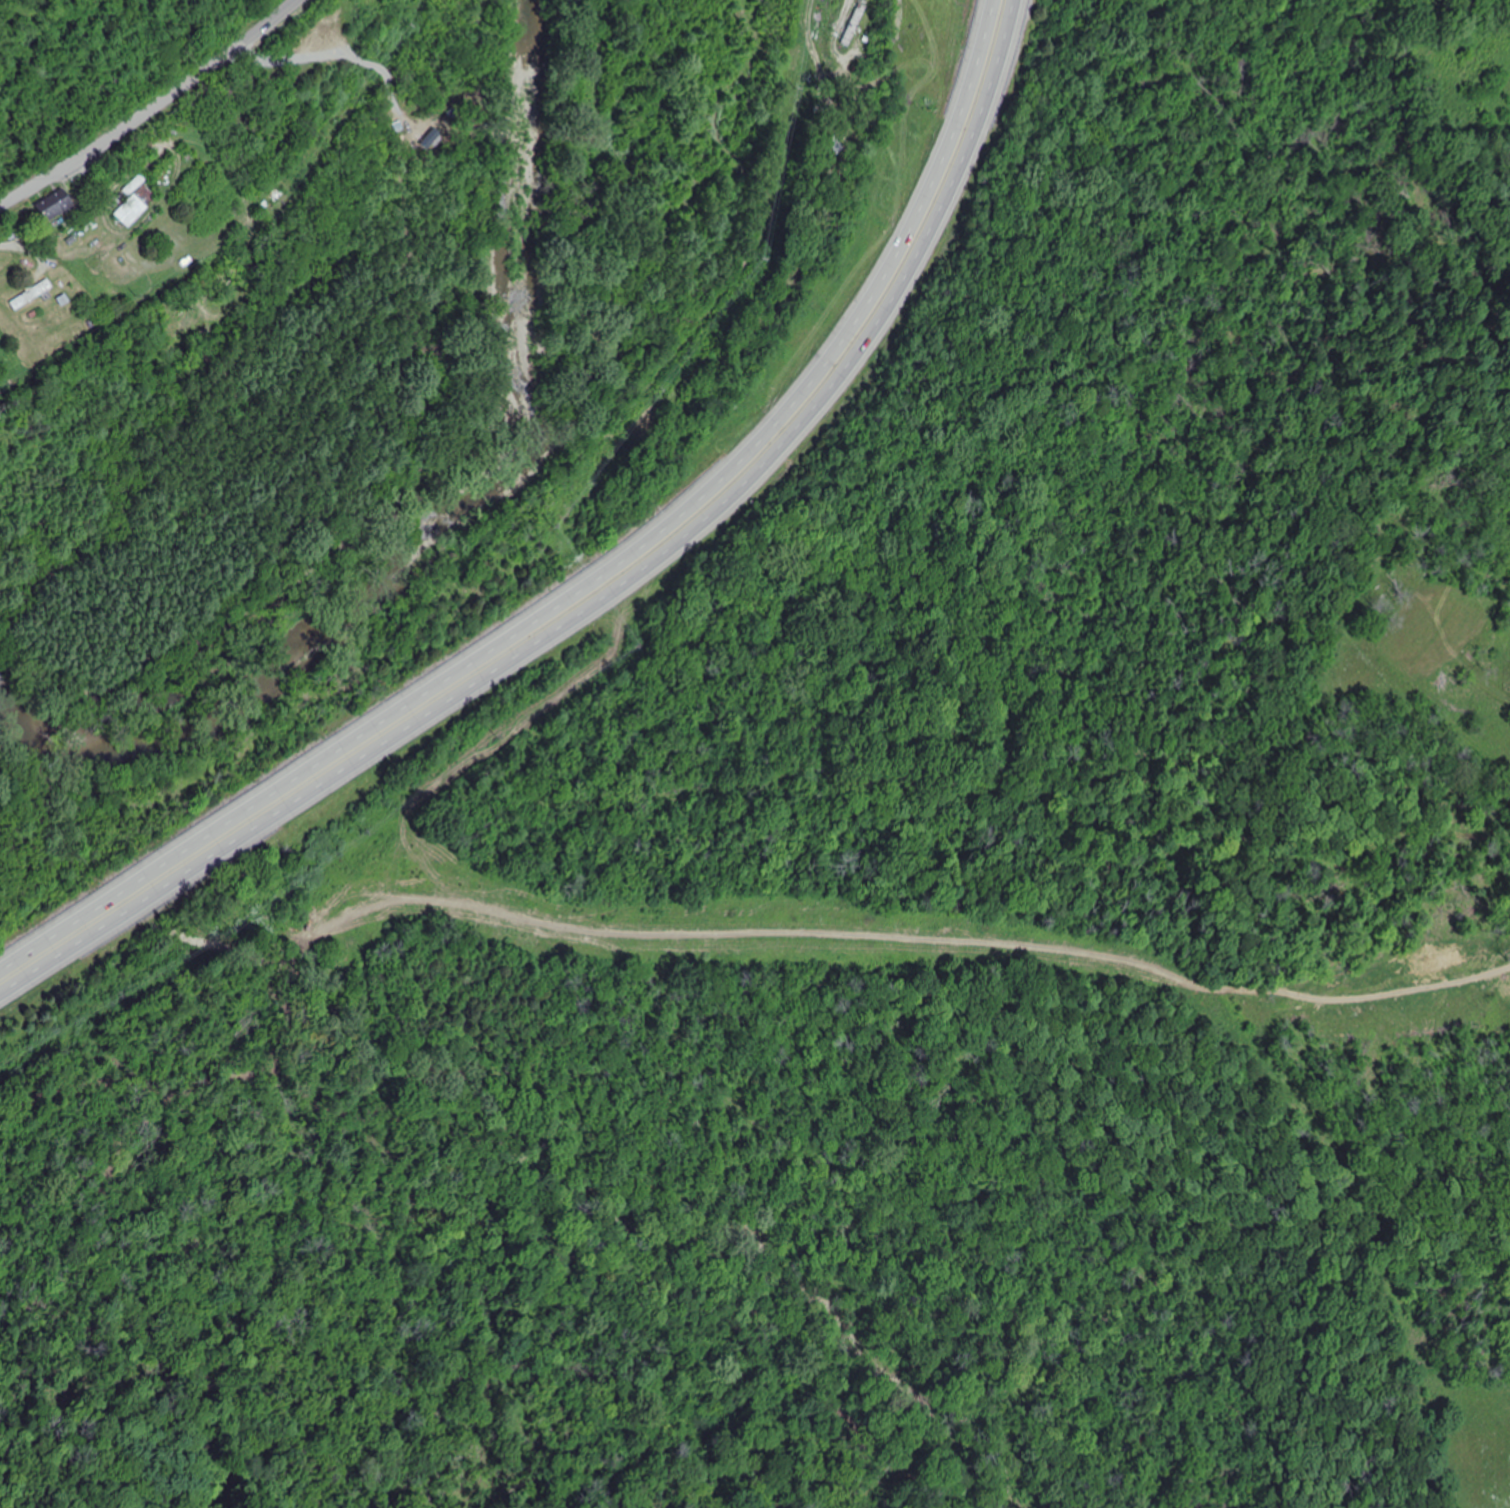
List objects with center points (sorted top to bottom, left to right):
building: (855, 25)
road: (240, 37)
building: (224, 97)
road: (96, 138)
building: (136, 202)
building: (56, 206)
building: (32, 296)
road: (598, 576)
road: (613, 592)

